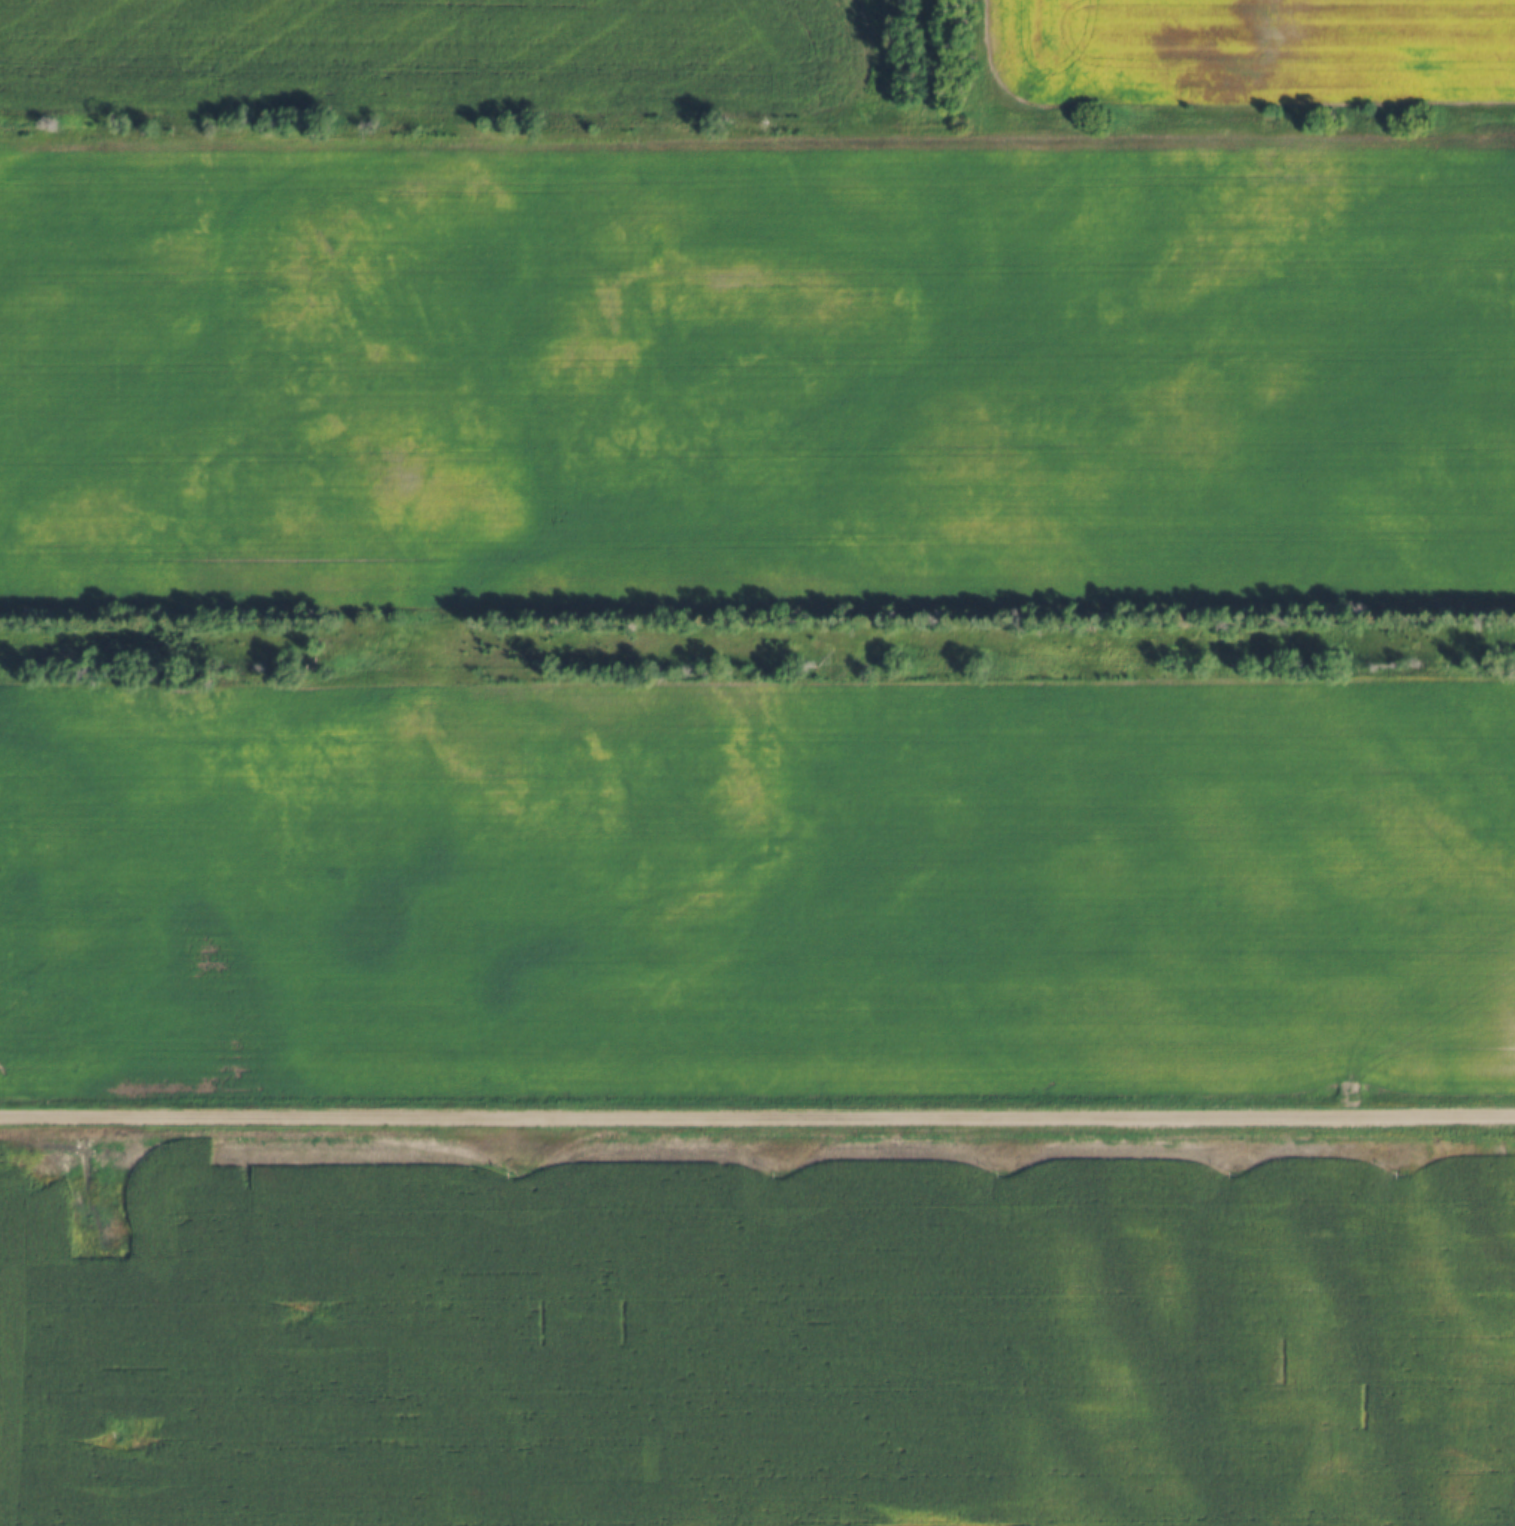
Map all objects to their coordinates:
road: (757, 1119)

